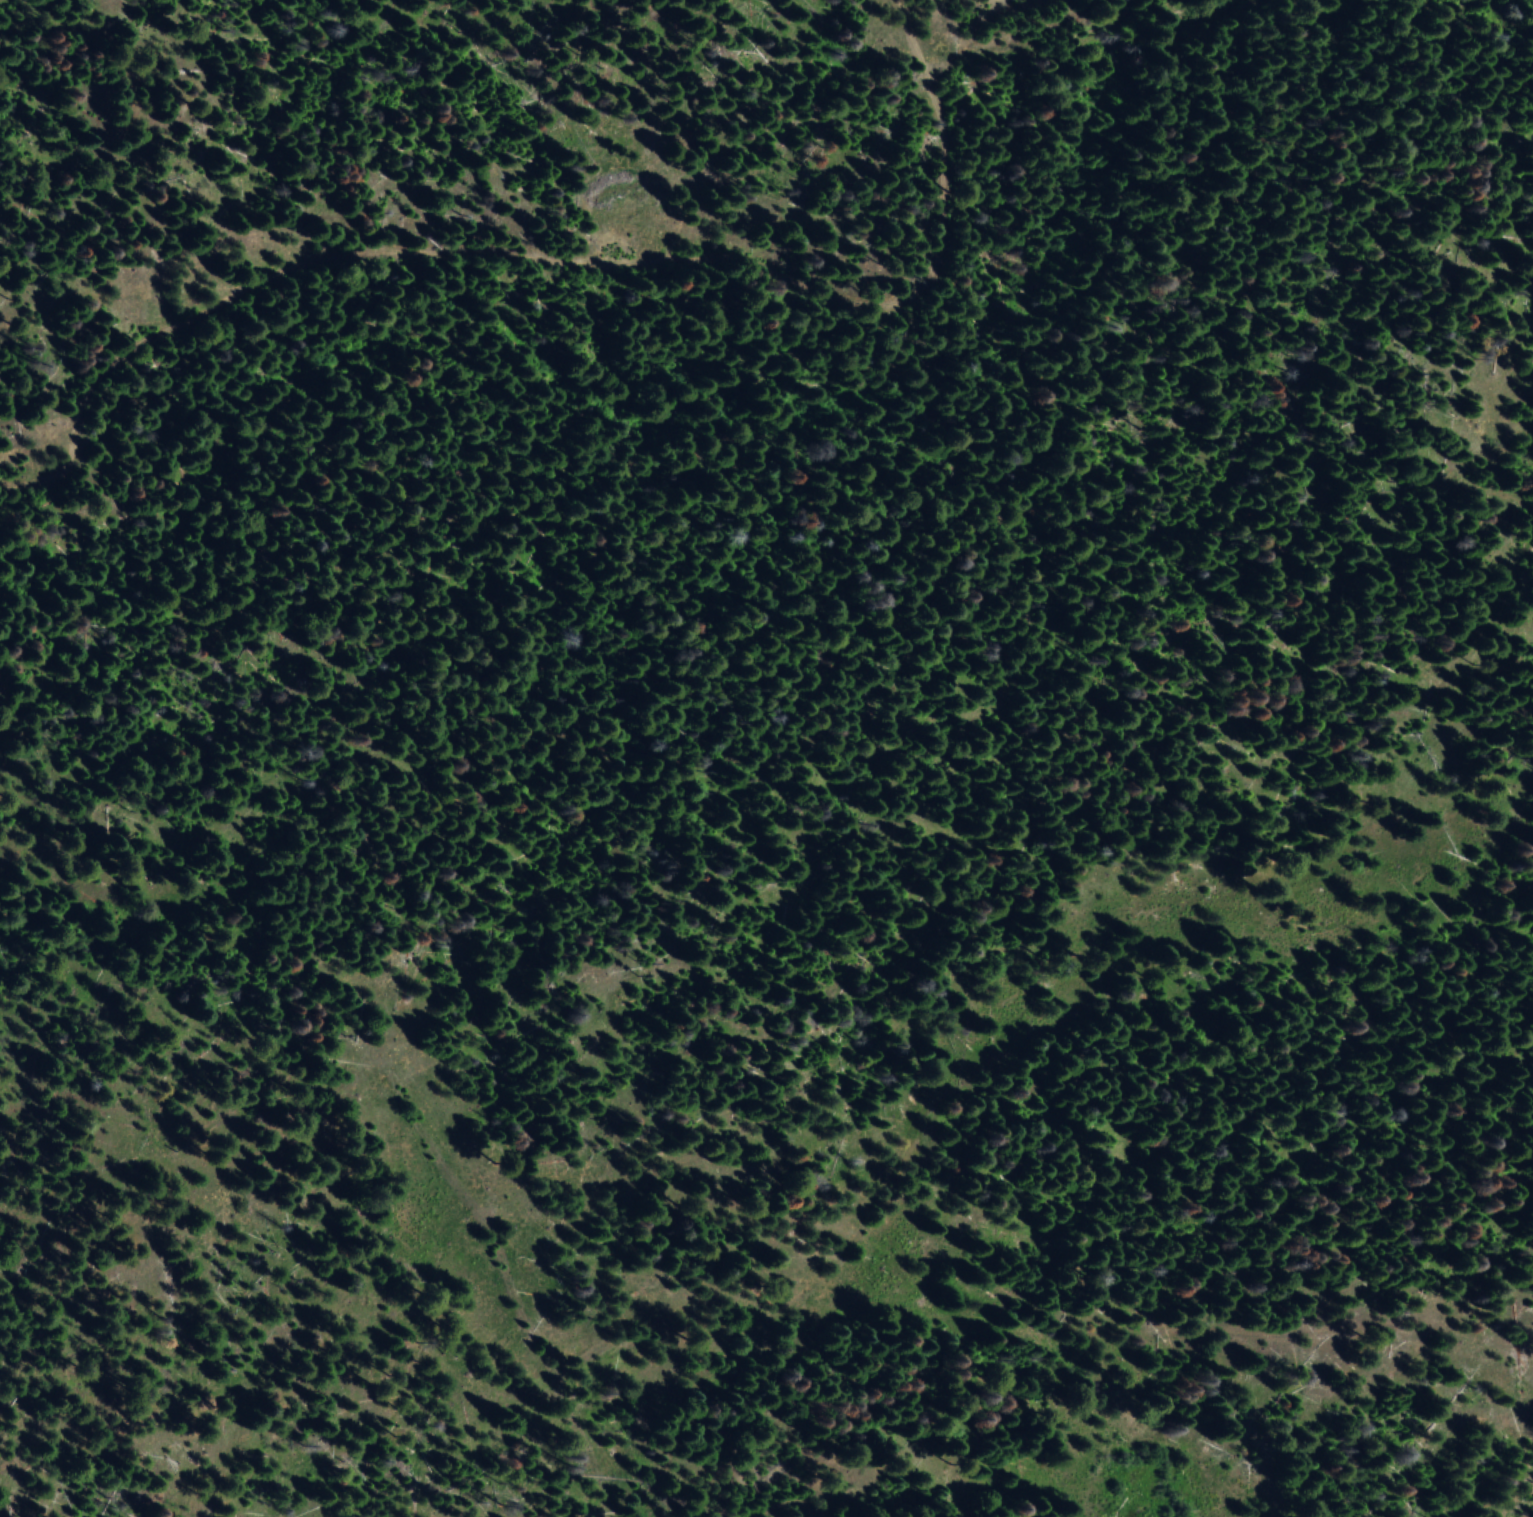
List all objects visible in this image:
road: (565, 256)
road: (1511, 1497)

